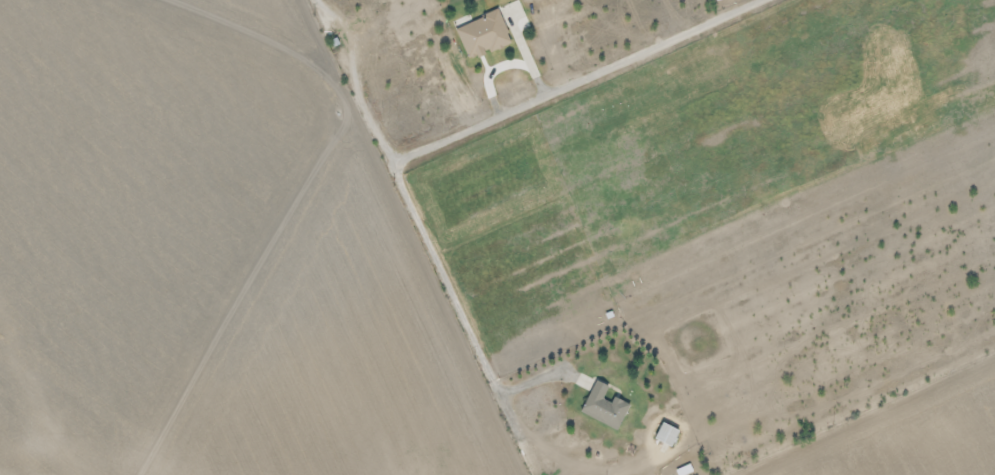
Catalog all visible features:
building: (482, 35)
road: (37, 374)
building: (605, 407)
road: (871, 418)
building: (667, 435)

